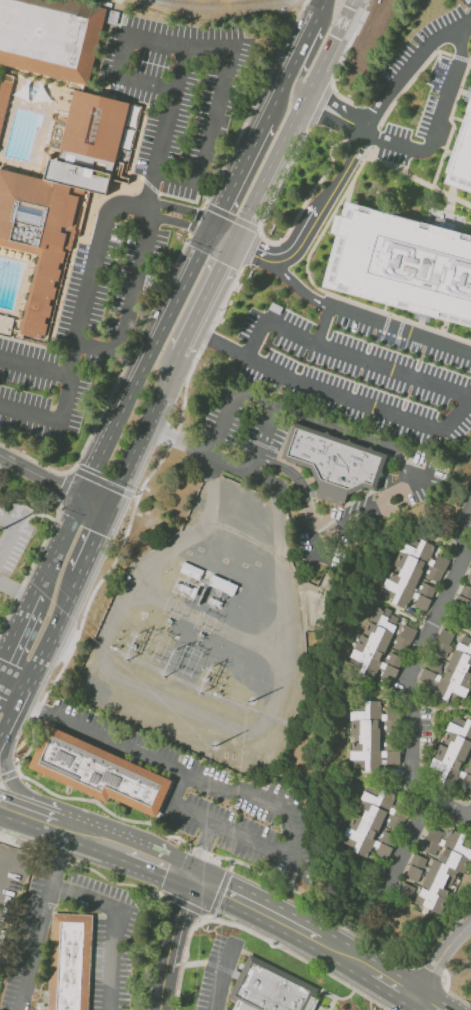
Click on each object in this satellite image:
railway: (218, 3)
road: (323, 8)
road: (220, 9)
building: (51, 36)
road: (307, 41)
road: (221, 47)
road: (409, 64)
road: (297, 82)
building: (4, 101)
road: (254, 103)
road: (335, 113)
road: (294, 118)
building: (95, 125)
road: (167, 128)
road: (439, 129)
road: (446, 141)
building: (460, 155)
road: (428, 208)
road: (184, 211)
road: (230, 217)
road: (196, 220)
building: (45, 224)
road: (182, 224)
road: (467, 224)
traffic signals: (215, 226)
road: (309, 227)
traffic signals: (236, 238)
road: (249, 250)
road: (307, 260)
building: (400, 265)
road: (222, 269)
road: (94, 272)
road: (187, 280)
road: (294, 284)
road: (130, 302)
road: (420, 319)
building: (6, 324)
road: (325, 325)
road: (195, 326)
road: (401, 330)
road: (346, 353)
road: (35, 366)
road: (114, 387)
road: (334, 393)
road: (52, 418)
road: (147, 432)
road: (264, 438)
building: (335, 460)
traffic signals: (93, 469)
road: (40, 474)
road: (103, 482)
traffic signals: (62, 485)
road: (62, 488)
road: (398, 491)
road: (95, 503)
traffic signals: (110, 511)
road: (131, 514)
road: (8, 533)
traffic signals: (98, 534)
road: (93, 542)
parking lot: (12, 545)
road: (57, 546)
road: (30, 568)
building: (469, 575)
building: (415, 576)
road: (16, 589)
building: (465, 600)
road: (16, 632)
power substation: (208, 636)
building: (404, 638)
building: (443, 642)
building: (379, 648)
road: (38, 655)
road: (418, 679)
road: (11, 686)
building: (369, 740)
building: (453, 753)
building: (98, 772)
road: (8, 774)
road: (215, 789)
road: (44, 803)
road: (102, 806)
road: (176, 808)
road: (33, 818)
road: (20, 821)
building: (374, 826)
road: (96, 839)
road: (411, 842)
road: (20, 846)
road: (201, 850)
road: (203, 850)
road: (160, 860)
building: (441, 865)
building: (415, 867)
traffic signals: (193, 876)
road: (104, 877)
building: (405, 890)
road: (258, 912)
road: (324, 912)
road: (211, 914)
road: (40, 919)
road: (116, 921)
road: (176, 922)
road: (451, 928)
road: (284, 951)
road: (348, 958)
road: (440, 958)
building: (70, 962)
road: (432, 971)
road: (457, 971)
road: (181, 973)
road: (222, 977)
road: (387, 981)
building: (272, 989)
road: (158, 990)
road: (448, 992)
road: (409, 995)
road: (399, 1001)
road: (422, 1004)
road: (430, 1009)

